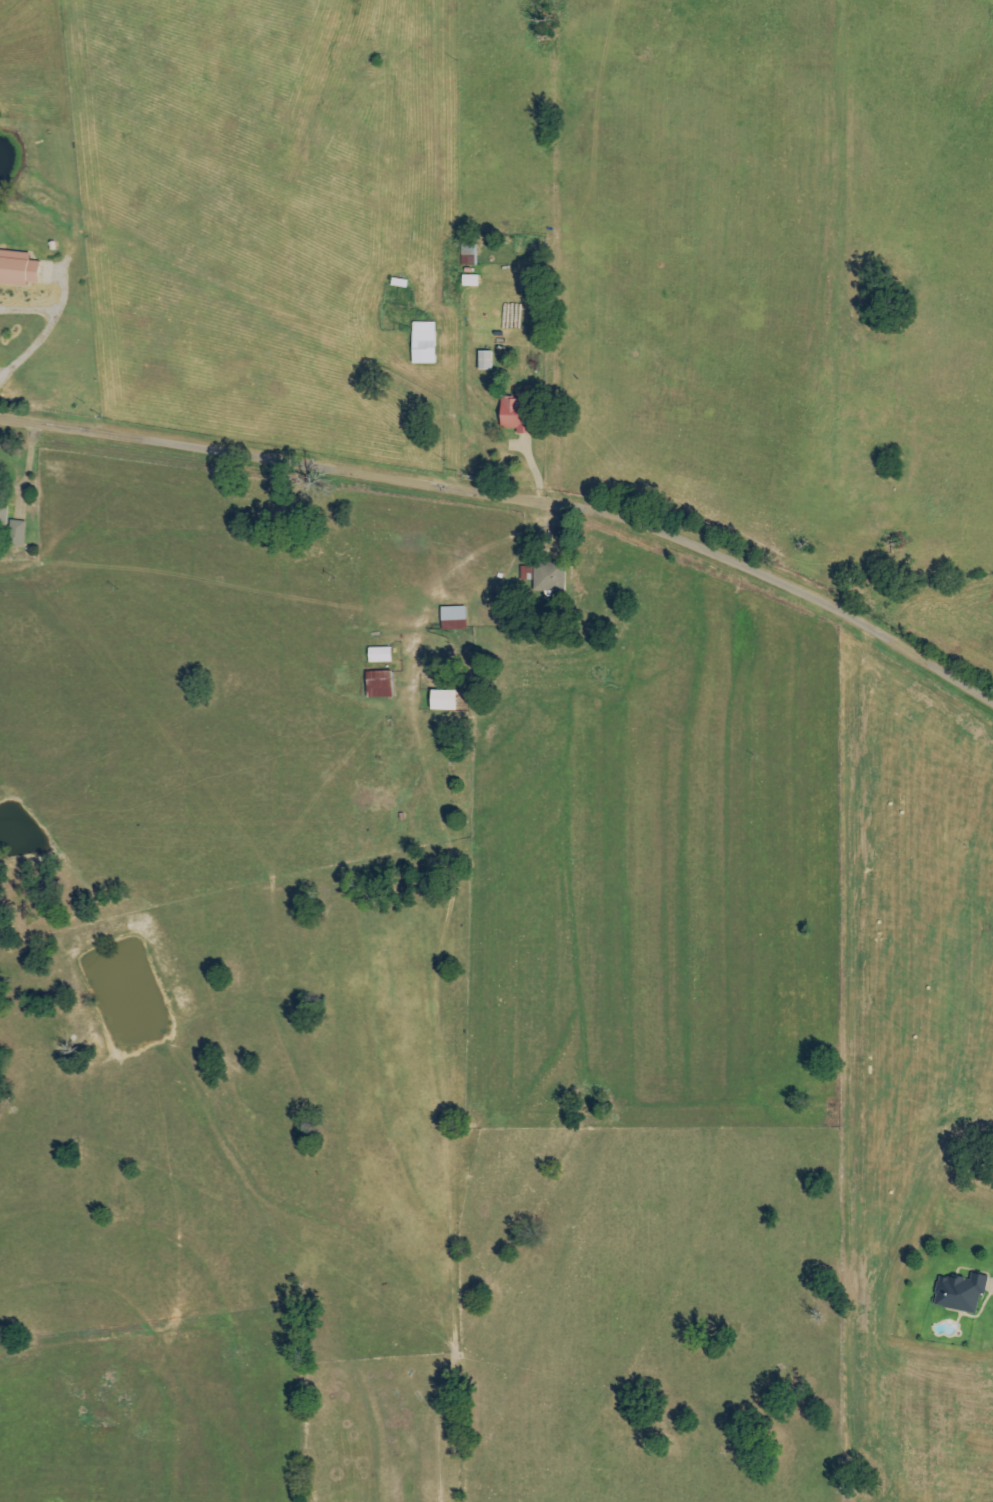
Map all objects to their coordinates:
building: (467, 252)
building: (17, 268)
building: (468, 281)
road: (28, 308)
road: (45, 328)
building: (422, 342)
building: (483, 360)
building: (513, 415)
road: (521, 472)
building: (3, 508)
building: (15, 532)
building: (548, 577)
building: (452, 618)
building: (378, 655)
building: (378, 684)
building: (441, 700)
building: (959, 1292)

